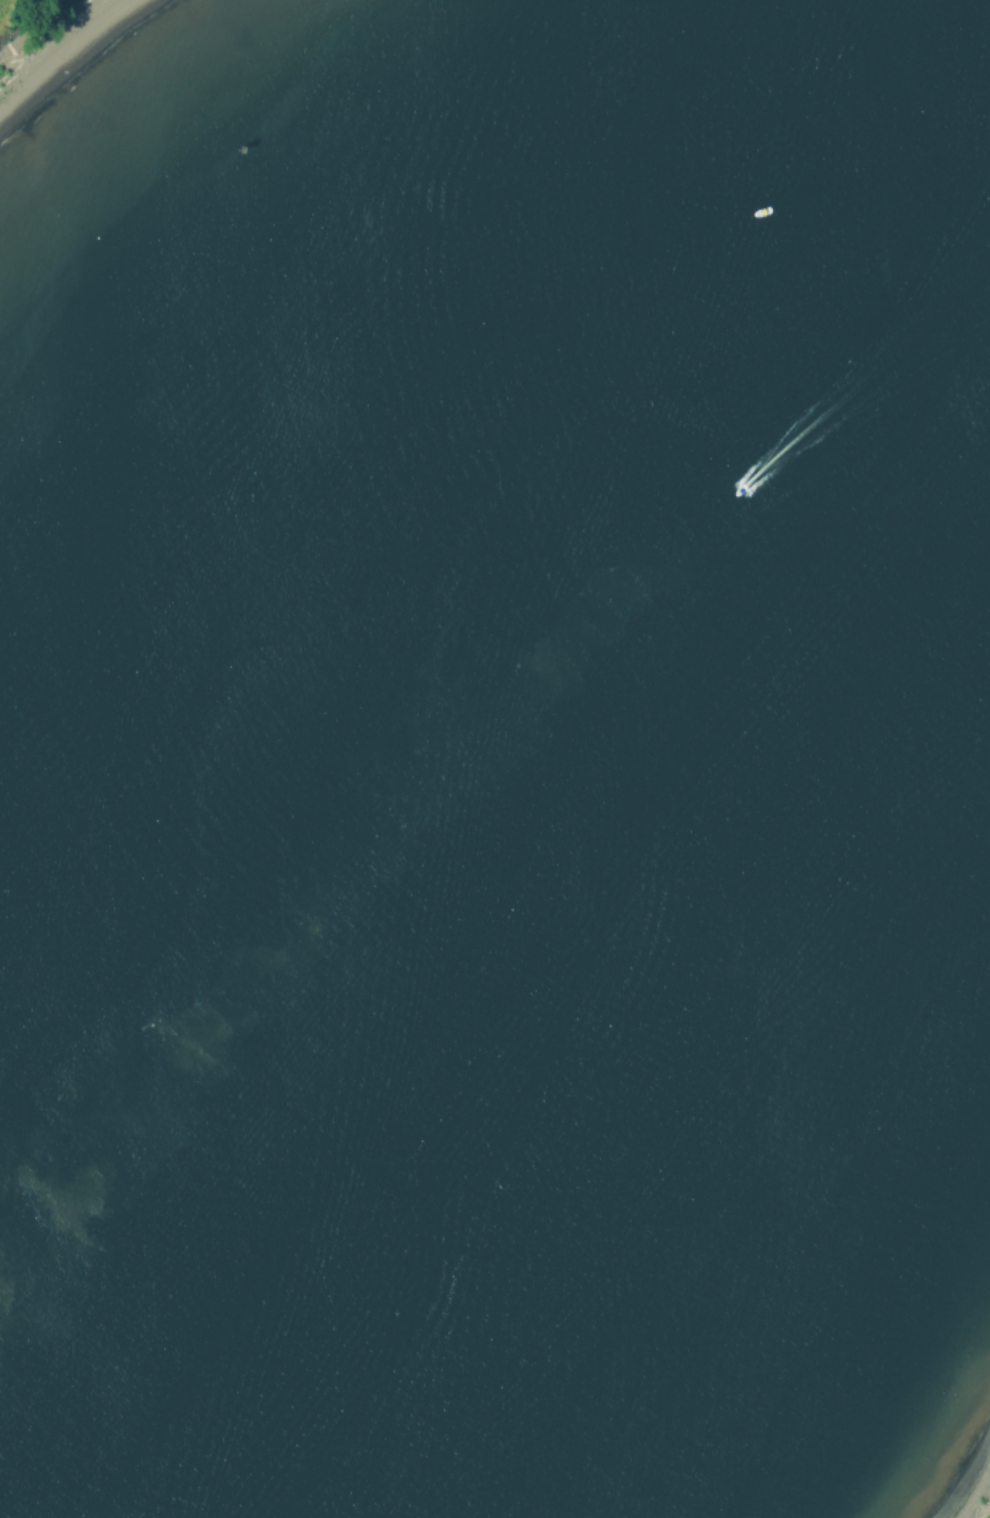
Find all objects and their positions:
river: (399, 787)

